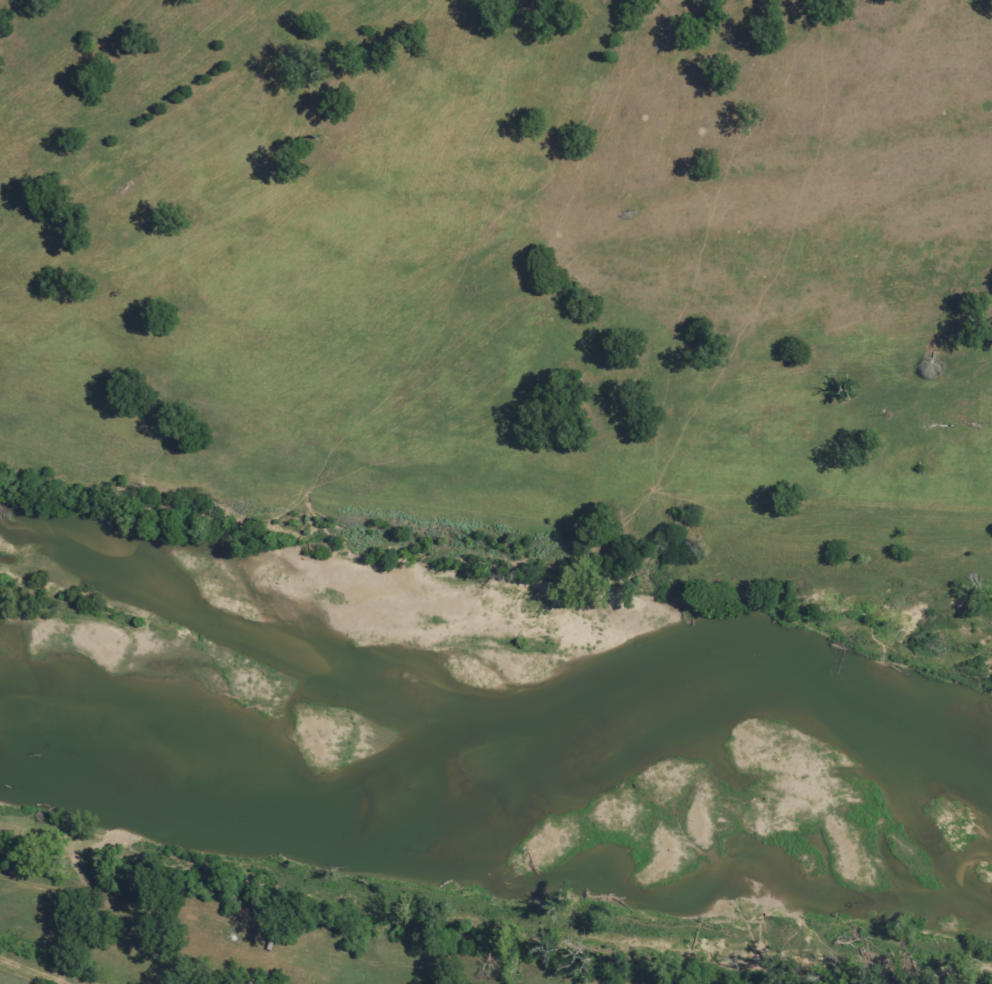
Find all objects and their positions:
river: (503, 710)

